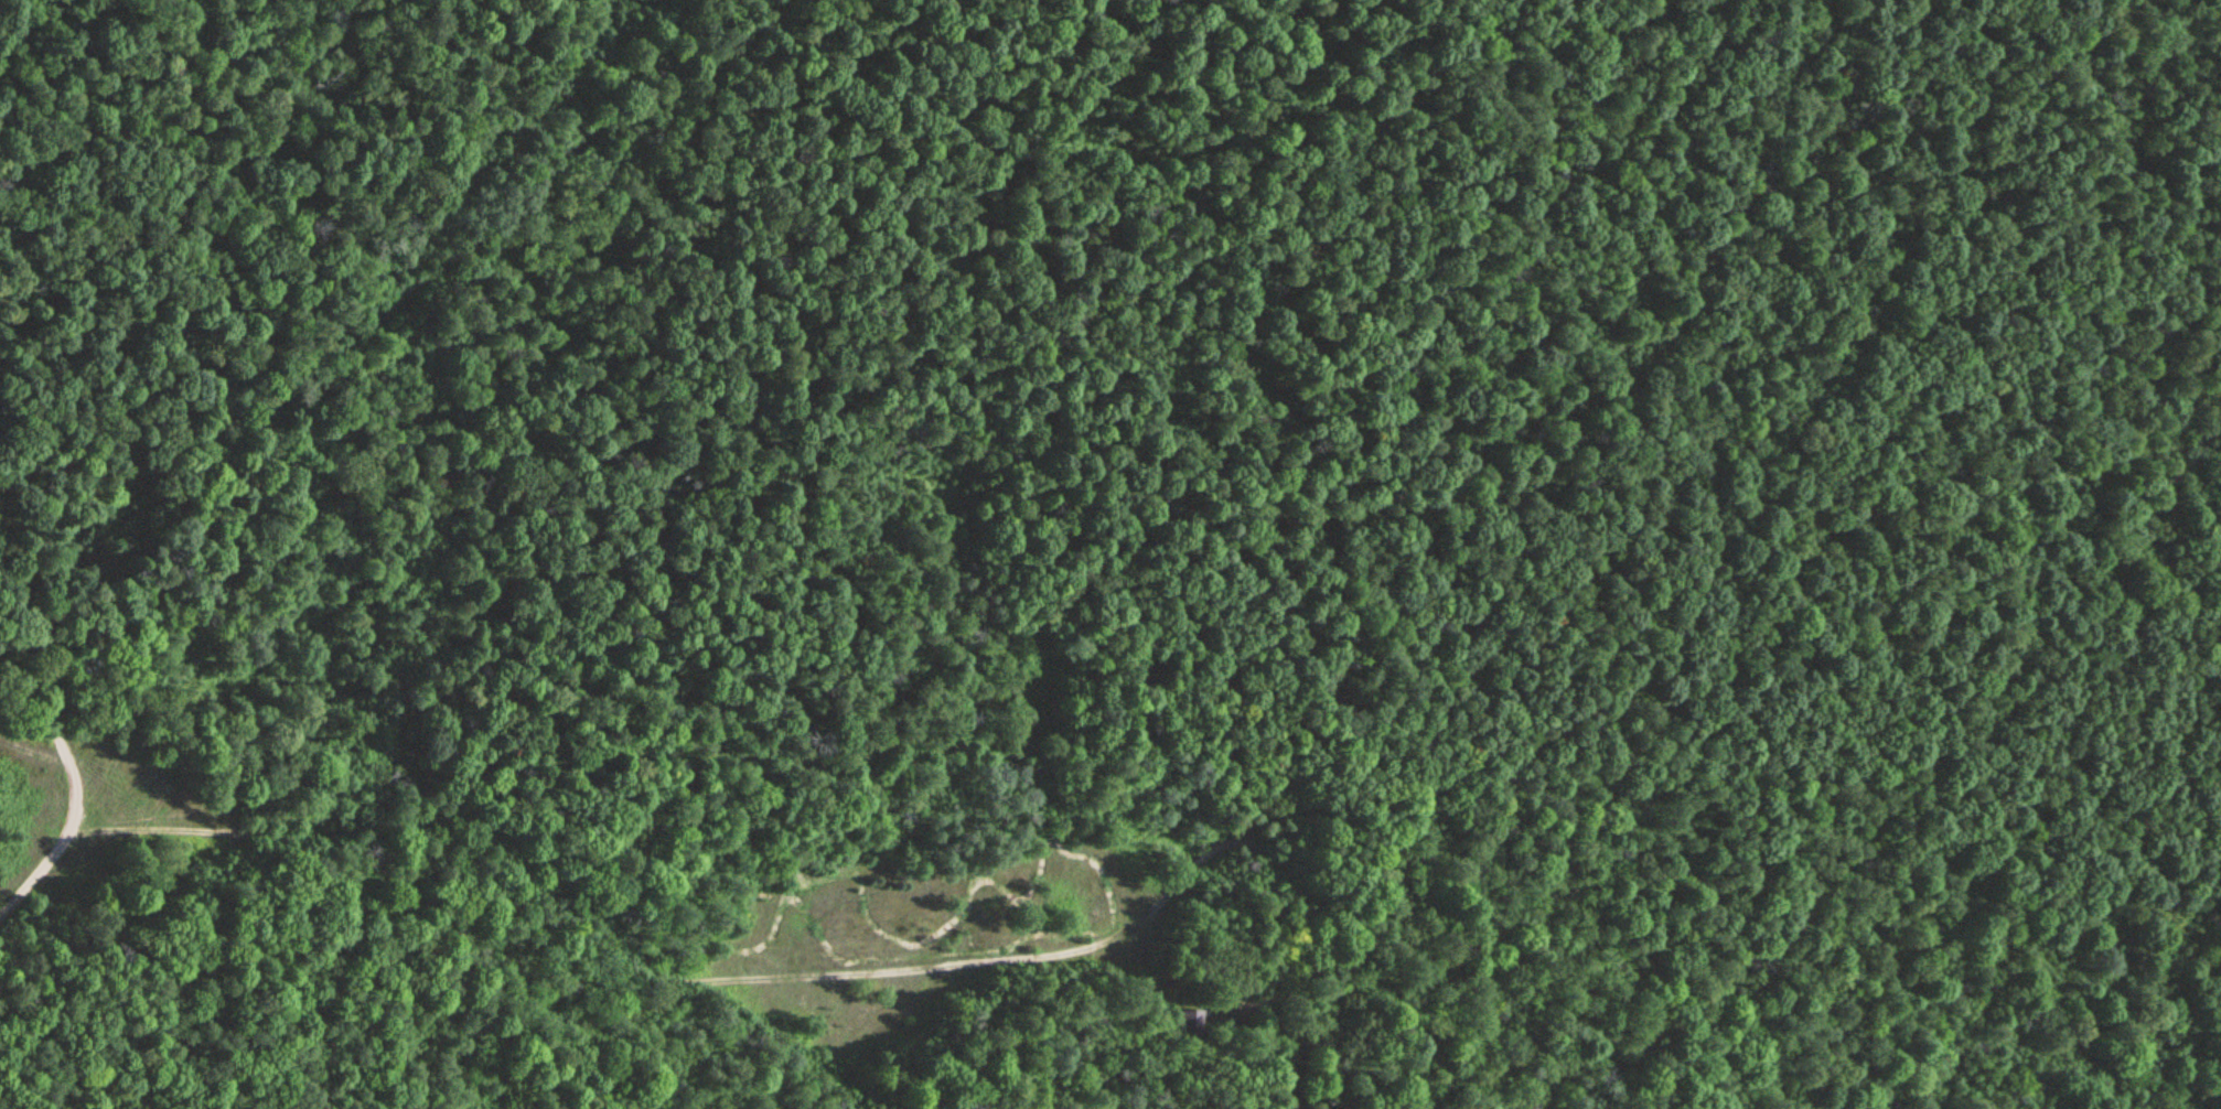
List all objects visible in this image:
road: (397, 290)
road: (369, 293)
road: (54, 722)
road: (32, 752)
road: (1266, 826)
road: (663, 975)
road: (1245, 1011)
building: (1190, 1022)

